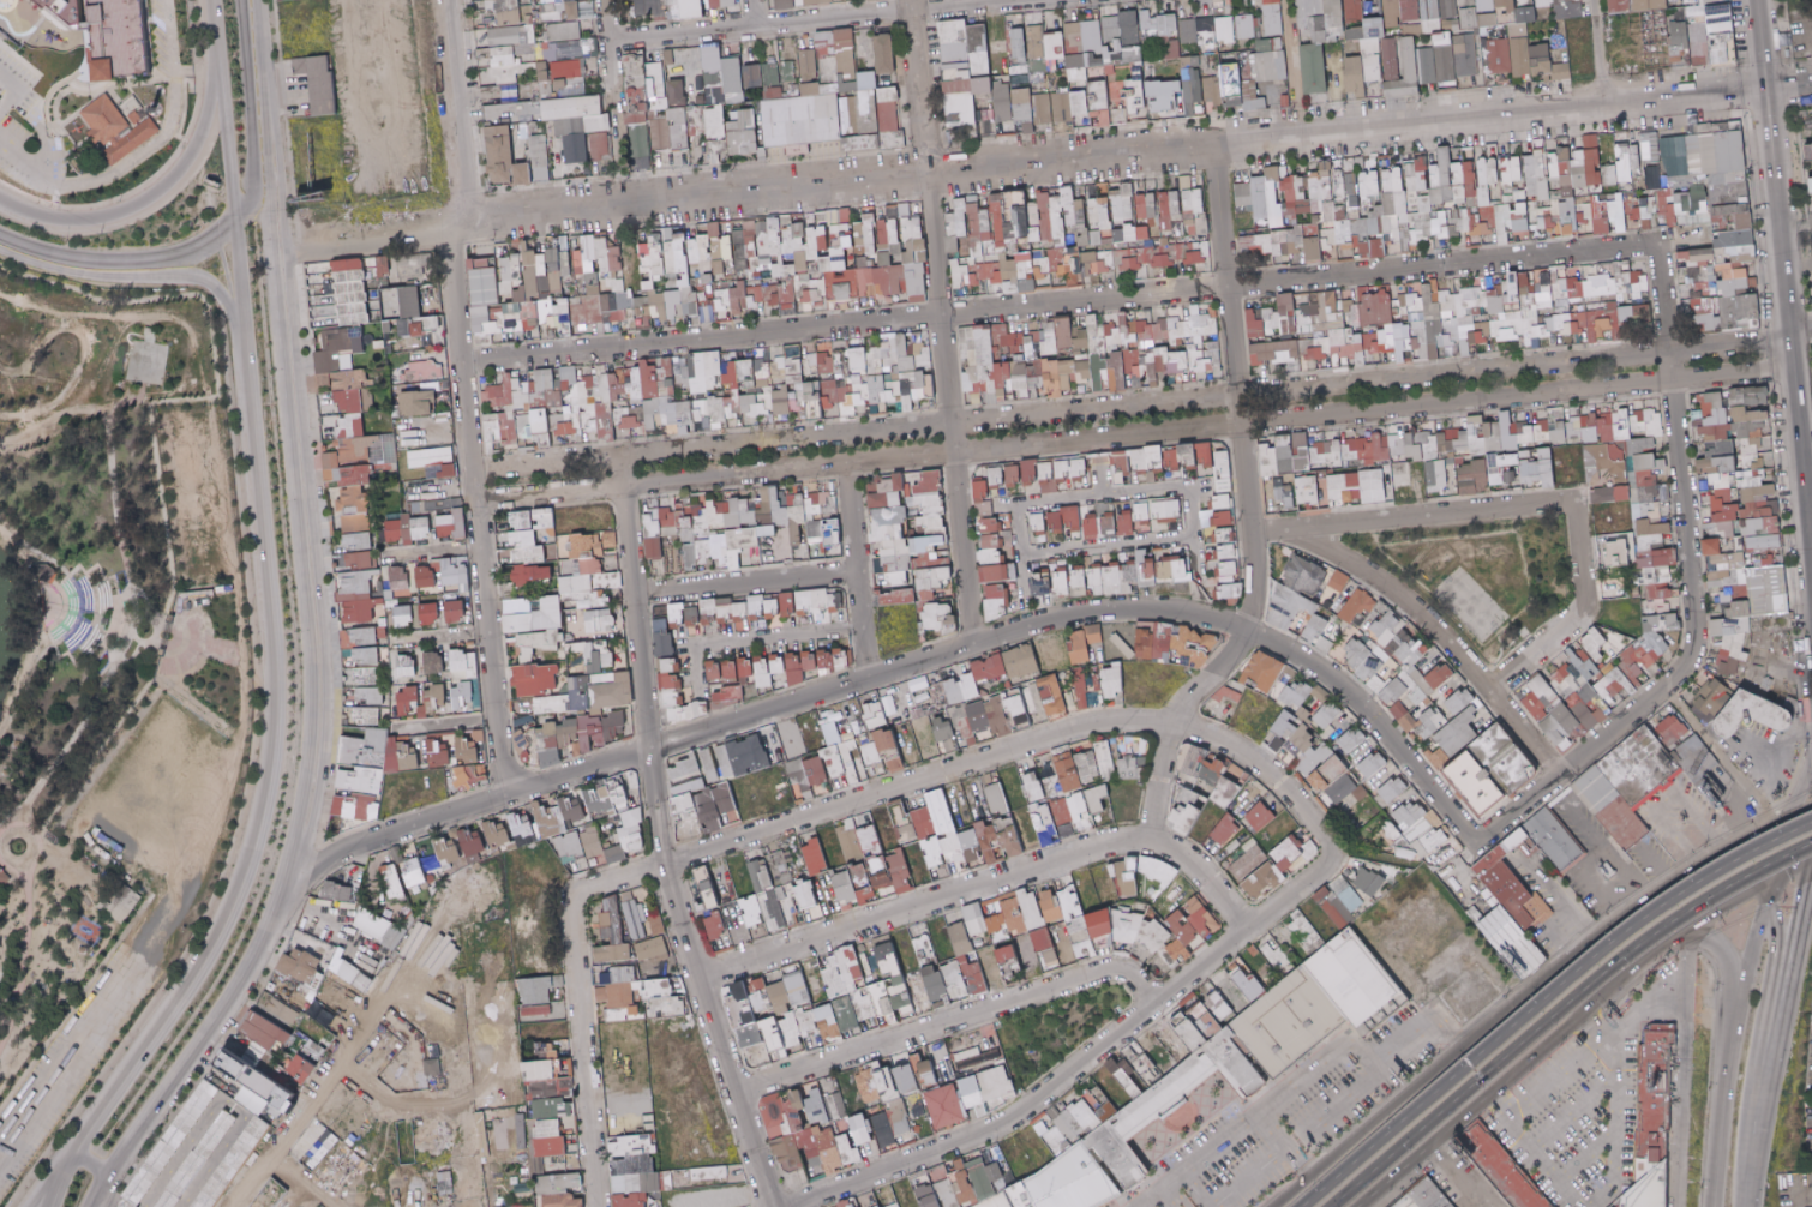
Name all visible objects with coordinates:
parking lot: (162, 36)
parking lot: (14, 76)
park: (146, 358)
parking lot: (199, 492)
park: (1472, 571)
park: (1462, 602)
park: (108, 668)
parking lot: (1765, 756)
parking lot: (158, 926)
park: (1056, 1027)

